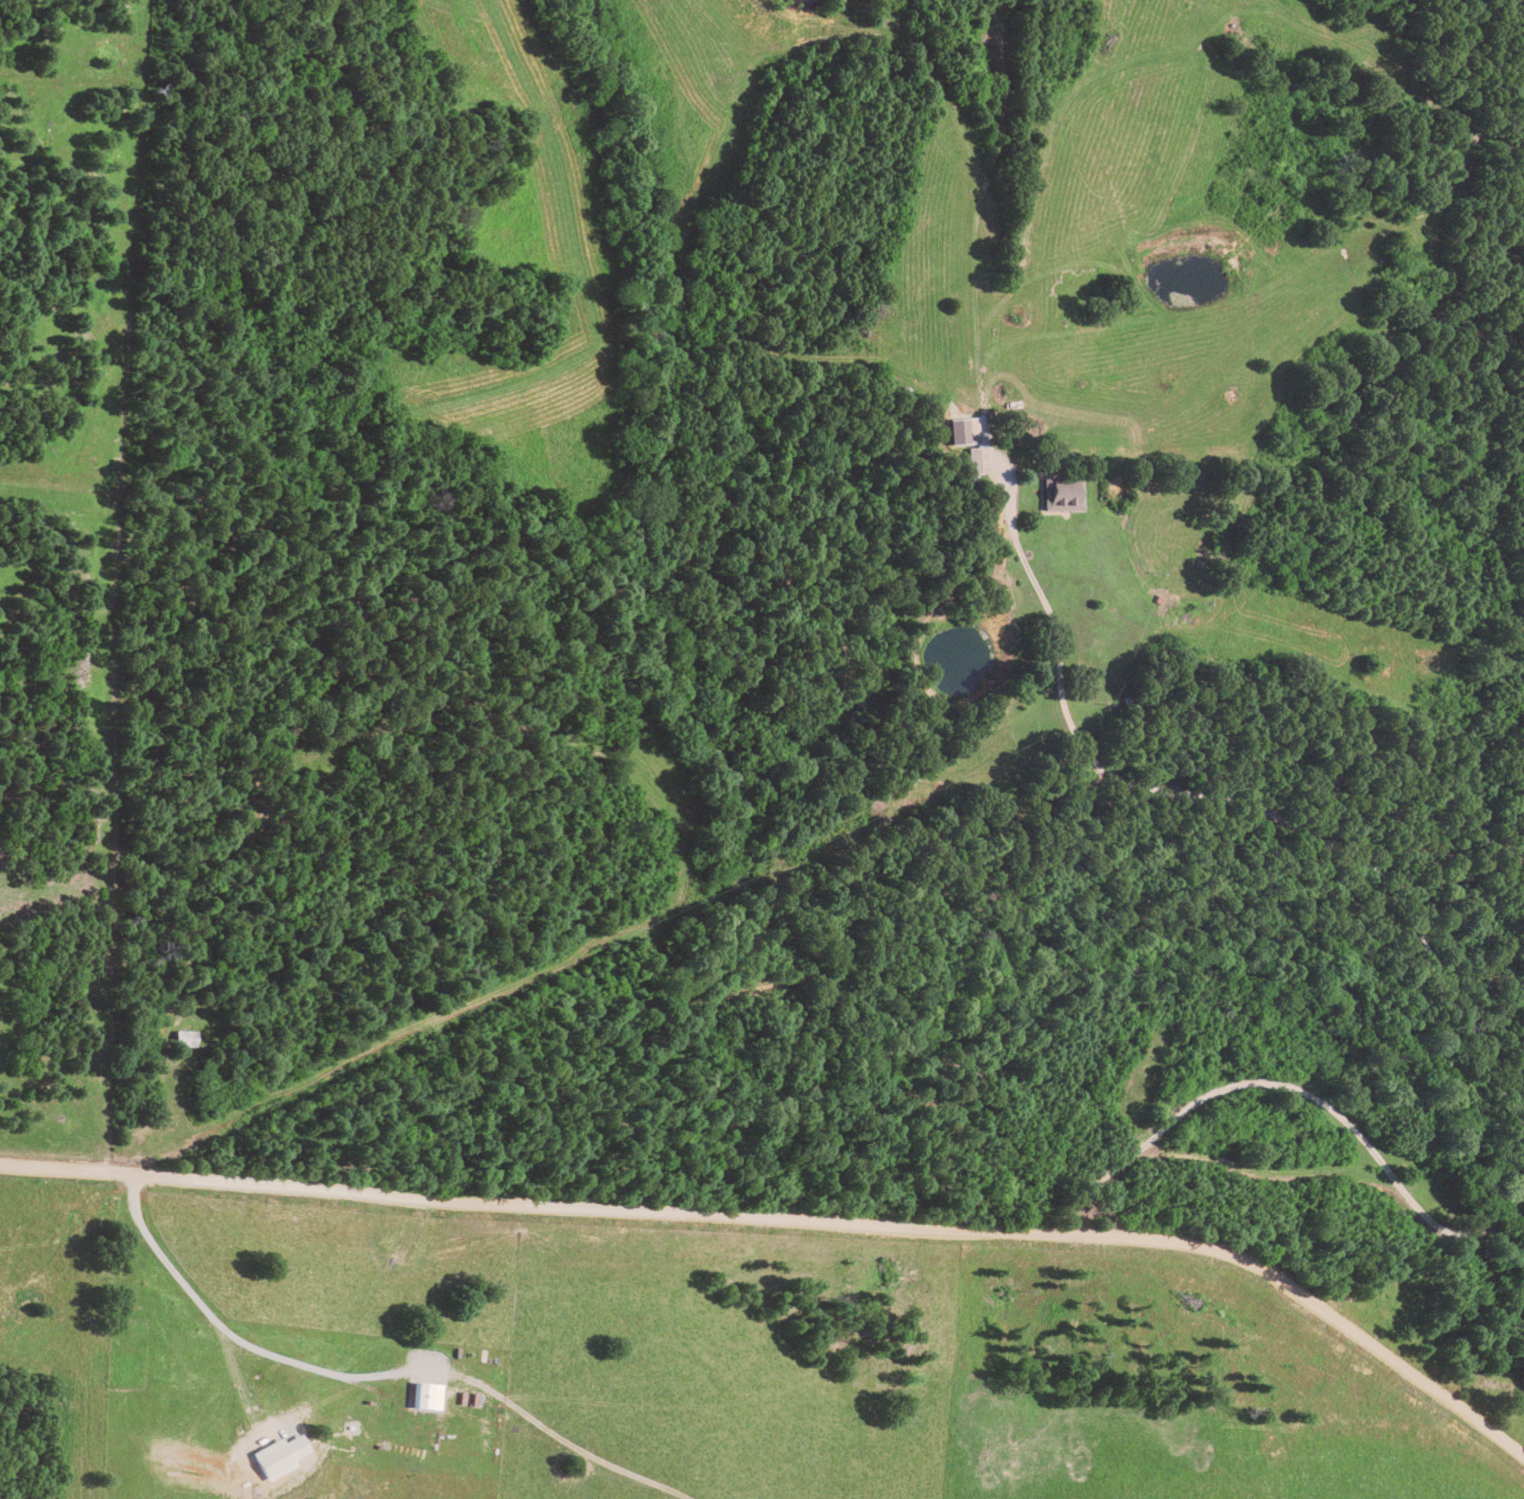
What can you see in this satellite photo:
building: (975, 460)
building: (186, 1039)
road: (793, 1223)
road: (410, 1351)
building: (426, 1397)

